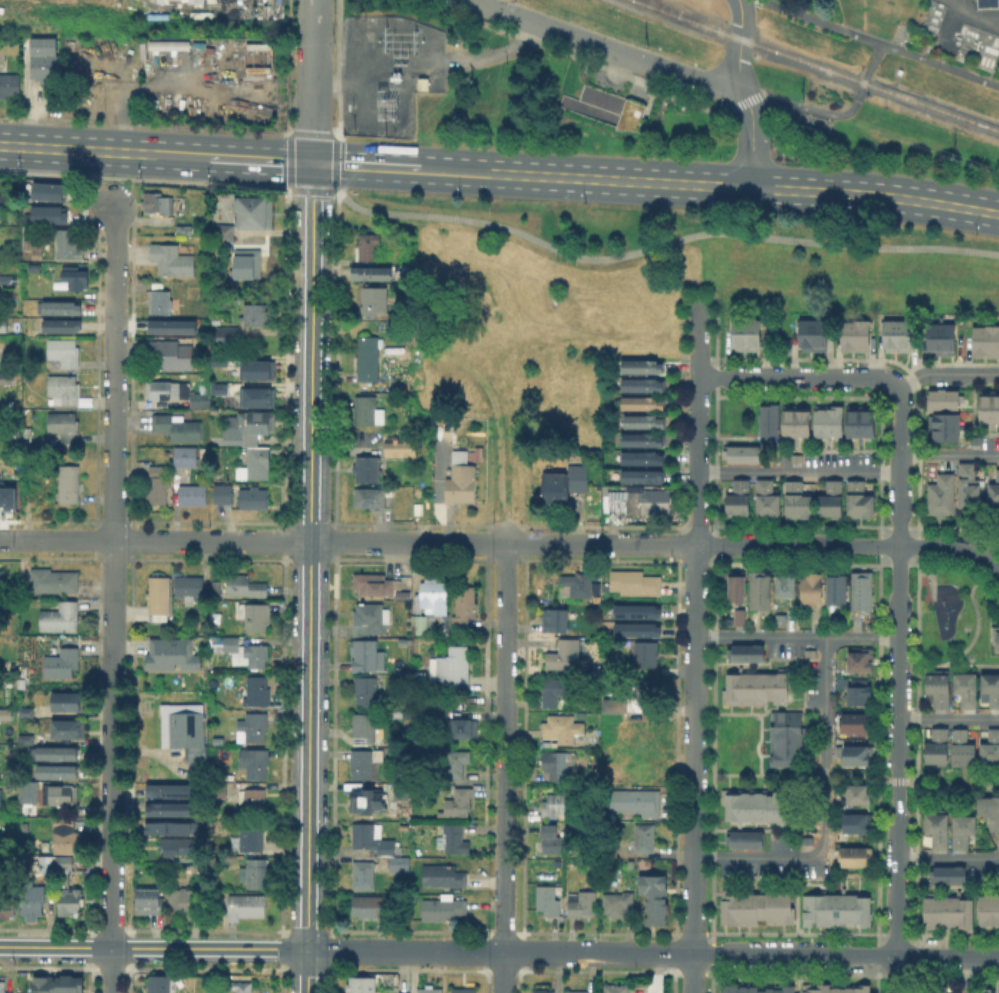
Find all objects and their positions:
building: (160, 1)
building: (986, 2)
railway: (684, 14)
road: (977, 19)
road: (820, 21)
wastewater plant: (926, 26)
road: (586, 41)
road: (738, 42)
building: (167, 44)
building: (258, 55)
road: (584, 58)
building: (45, 60)
railway: (817, 64)
road: (867, 68)
road: (338, 69)
power substation: (387, 71)
road: (313, 81)
road: (722, 83)
building: (10, 84)
road: (745, 91)
building: (606, 107)
road: (321, 134)
road: (752, 142)
road: (78, 149)
road: (234, 158)
traffic signals: (313, 163)
road: (400, 167)
road: (290, 176)
road: (313, 176)
road: (145, 178)
road: (620, 180)
road: (302, 190)
road: (336, 190)
road: (112, 191)
road: (324, 191)
building: (40, 193)
road: (876, 195)
building: (2, 198)
building: (158, 202)
building: (251, 211)
building: (39, 217)
building: (222, 231)
building: (378, 236)
building: (67, 243)
road: (661, 244)
building: (365, 245)
building: (37, 253)
building: (378, 254)
building: (173, 259)
building: (244, 263)
building: (369, 273)
building: (75, 276)
building: (8, 278)
building: (376, 299)
building: (160, 301)
building: (62, 307)
building: (256, 314)
building: (217, 319)
building: (4, 324)
building: (63, 325)
building: (170, 325)
building: (744, 333)
building: (810, 333)
building: (853, 333)
building: (894, 333)
building: (228, 334)
building: (939, 337)
building: (984, 339)
building: (64, 351)
building: (172, 355)
building: (370, 357)
building: (221, 360)
building: (643, 365)
building: (258, 369)
road: (945, 371)
road: (797, 376)
building: (6, 377)
building: (205, 382)
building: (644, 384)
building: (65, 388)
building: (161, 388)
building: (221, 388)
building: (183, 394)
building: (257, 397)
building: (942, 397)
building: (200, 399)
building: (645, 402)
building: (987, 406)
building: (368, 410)
building: (770, 416)
building: (797, 418)
building: (829, 418)
building: (862, 419)
building: (645, 420)
building: (64, 425)
building: (941, 425)
building: (178, 426)
building: (250, 427)
building: (15, 434)
building: (645, 438)
building: (598, 443)
building: (396, 445)
building: (744, 450)
road: (949, 454)
building: (187, 456)
building: (457, 456)
building: (643, 457)
building: (798, 457)
building: (255, 460)
building: (363, 467)
building: (157, 468)
road: (799, 472)
building: (643, 476)
building: (68, 483)
building: (462, 483)
building: (37, 485)
building: (564, 485)
building: (969, 486)
building: (157, 488)
building: (994, 491)
building: (223, 493)
building: (943, 493)
building: (192, 494)
building: (7, 497)
building: (254, 497)
building: (368, 497)
building: (768, 497)
building: (832, 497)
building: (739, 498)
building: (860, 498)
building: (798, 499)
building: (645, 501)
road: (955, 527)
road: (347, 542)
road: (851, 544)
building: (53, 581)
building: (785, 582)
building: (637, 583)
building: (377, 584)
building: (578, 584)
building: (246, 585)
building: (738, 585)
building: (838, 585)
building: (190, 586)
building: (811, 587)
building: (760, 588)
building: (863, 590)
road: (310, 591)
building: (435, 595)
building: (159, 597)
road: (113, 599)
building: (464, 605)
building: (633, 610)
building: (215, 613)
building: (254, 615)
building: (741, 615)
road: (977, 616)
building: (60, 617)
building: (370, 618)
building: (781, 618)
building: (557, 620)
park: (953, 620)
building: (201, 623)
building: (426, 623)
building: (628, 631)
road: (796, 635)
building: (998, 637)
road: (693, 649)
building: (743, 650)
building: (247, 651)
building: (173, 653)
building: (365, 654)
building: (648, 654)
building: (566, 656)
building: (860, 658)
building: (63, 659)
road: (949, 664)
building: (454, 667)
building: (22, 678)
building: (421, 679)
road: (506, 684)
building: (940, 685)
building: (992, 685)
building: (753, 686)
building: (968, 687)
road: (898, 688)
building: (258, 690)
building: (366, 690)
building: (556, 691)
building: (647, 691)
building: (859, 691)
building: (65, 699)
building: (614, 706)
building: (23, 711)
building: (6, 714)
building: (407, 714)
road: (948, 718)
building: (856, 720)
building: (253, 725)
building: (365, 726)
building: (464, 727)
building: (562, 727)
building: (68, 729)
building: (184, 731)
building: (784, 736)
building: (29, 739)
building: (939, 744)
building: (990, 747)
building: (964, 748)
building: (59, 750)
building: (857, 753)
building: (255, 761)
building: (365, 762)
building: (459, 764)
building: (558, 764)
building: (58, 769)
road: (847, 773)
building: (11, 784)
building: (859, 790)
building: (400, 791)
building: (174, 792)
building: (60, 794)
building: (30, 799)
building: (1, 800)
building: (370, 800)
building: (254, 801)
building: (635, 801)
building: (458, 802)
building: (755, 804)
building: (558, 805)
road: (821, 806)
building: (990, 808)
building: (175, 810)
building: (858, 820)
building: (938, 827)
building: (964, 827)
building: (173, 828)
building: (252, 835)
building: (66, 836)
building: (453, 837)
building: (742, 837)
building: (554, 839)
building: (646, 839)
building: (377, 843)
building: (177, 847)
building: (856, 854)
road: (948, 859)
building: (63, 861)
building: (45, 863)
building: (557, 864)
building: (255, 872)
building: (945, 872)
building: (365, 875)
building: (444, 876)
road: (504, 889)
building: (183, 898)
building: (31, 899)
building: (547, 899)
building: (653, 899)
building: (69, 900)
building: (149, 902)
building: (617, 902)
building: (584, 904)
building: (247, 905)
building: (369, 905)
building: (754, 906)
building: (5, 907)
building: (444, 908)
building: (834, 908)
building: (987, 908)
building: (945, 911)
road: (154, 948)
road: (499, 952)
road: (845, 955)
road: (503, 973)
road: (968, 974)
building: (63, 984)
building: (159, 984)
building: (362, 984)
building: (3, 987)
building: (242, 987)
building: (753, 987)
building: (833, 987)
building: (998, 988)
building: (939, 989)
building: (463, 990)
building: (211, 991)
building: (428, 991)
building: (544, 991)
building: (616, 991)
building: (984, 991)
building: (404, 992)
building: (578, 992)

